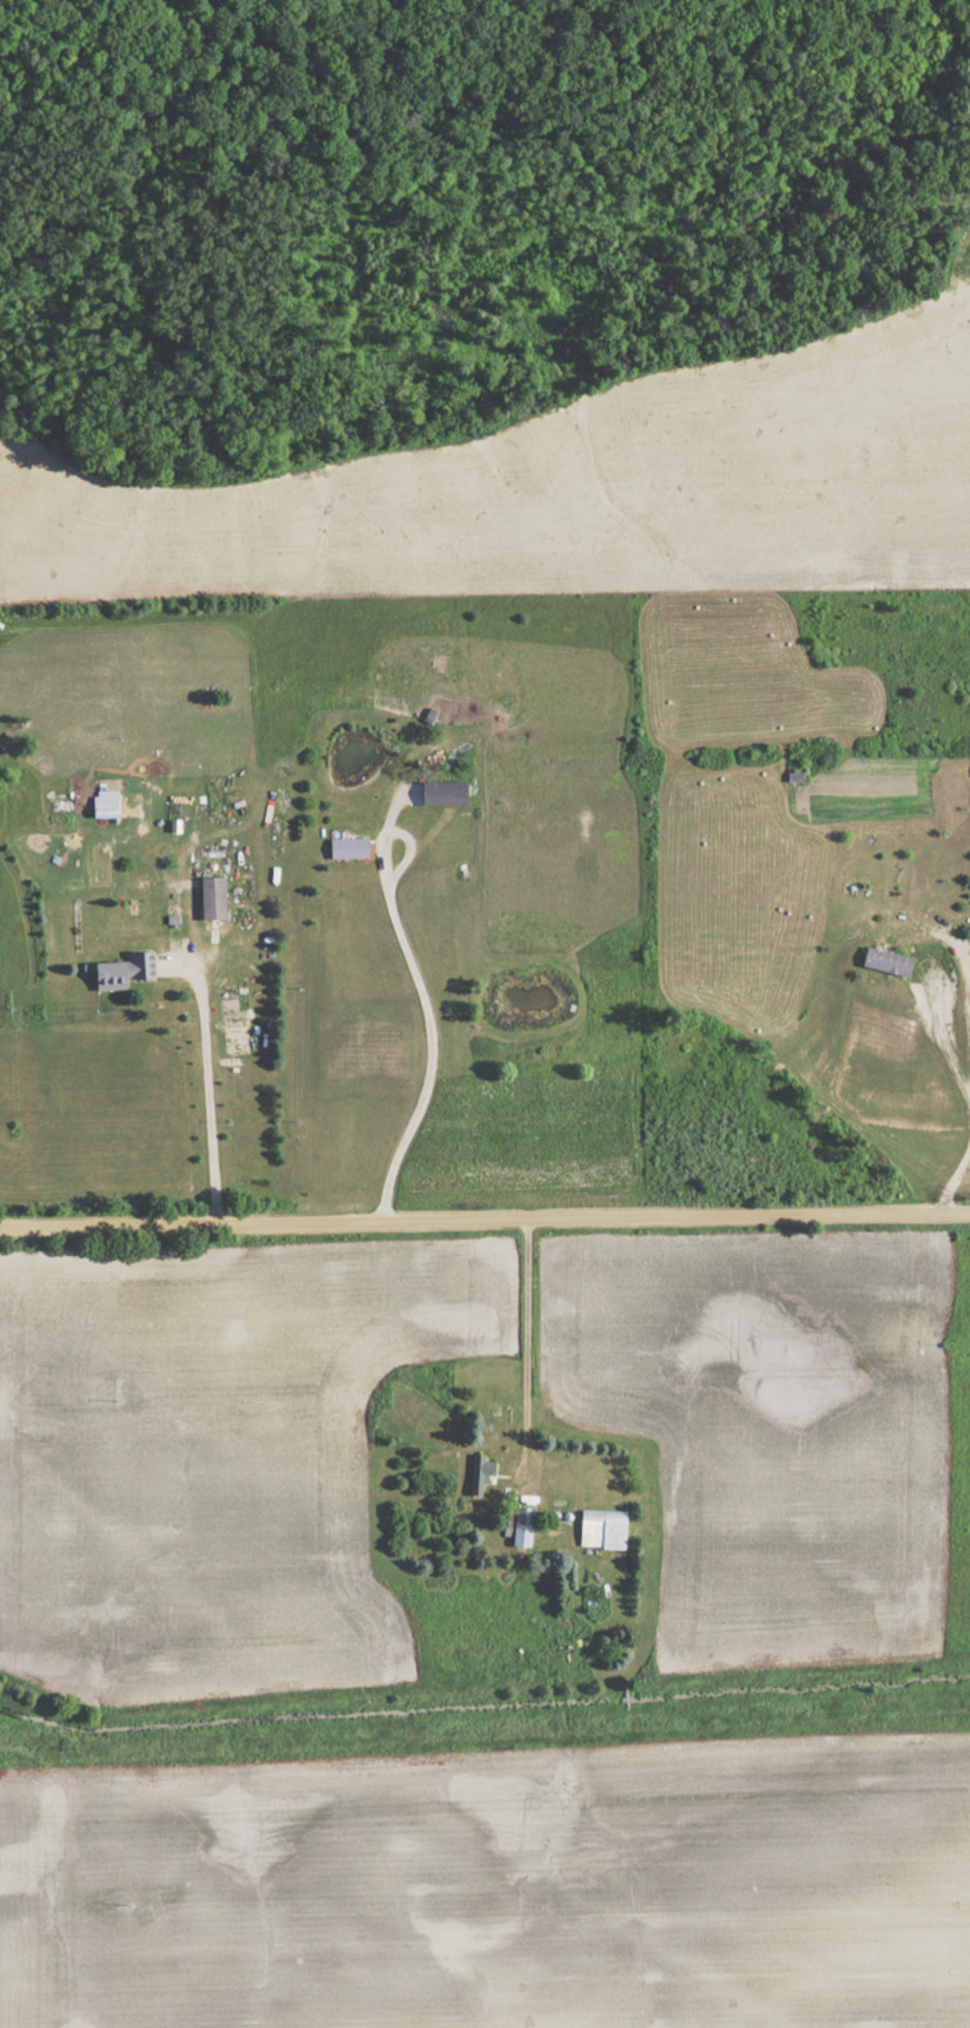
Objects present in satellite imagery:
building: (791, 777)
building: (440, 793)
building: (346, 848)
building: (209, 898)
building: (884, 963)
building: (121, 971)
road: (485, 1227)
building: (477, 1473)
building: (519, 1526)
building: (599, 1529)

